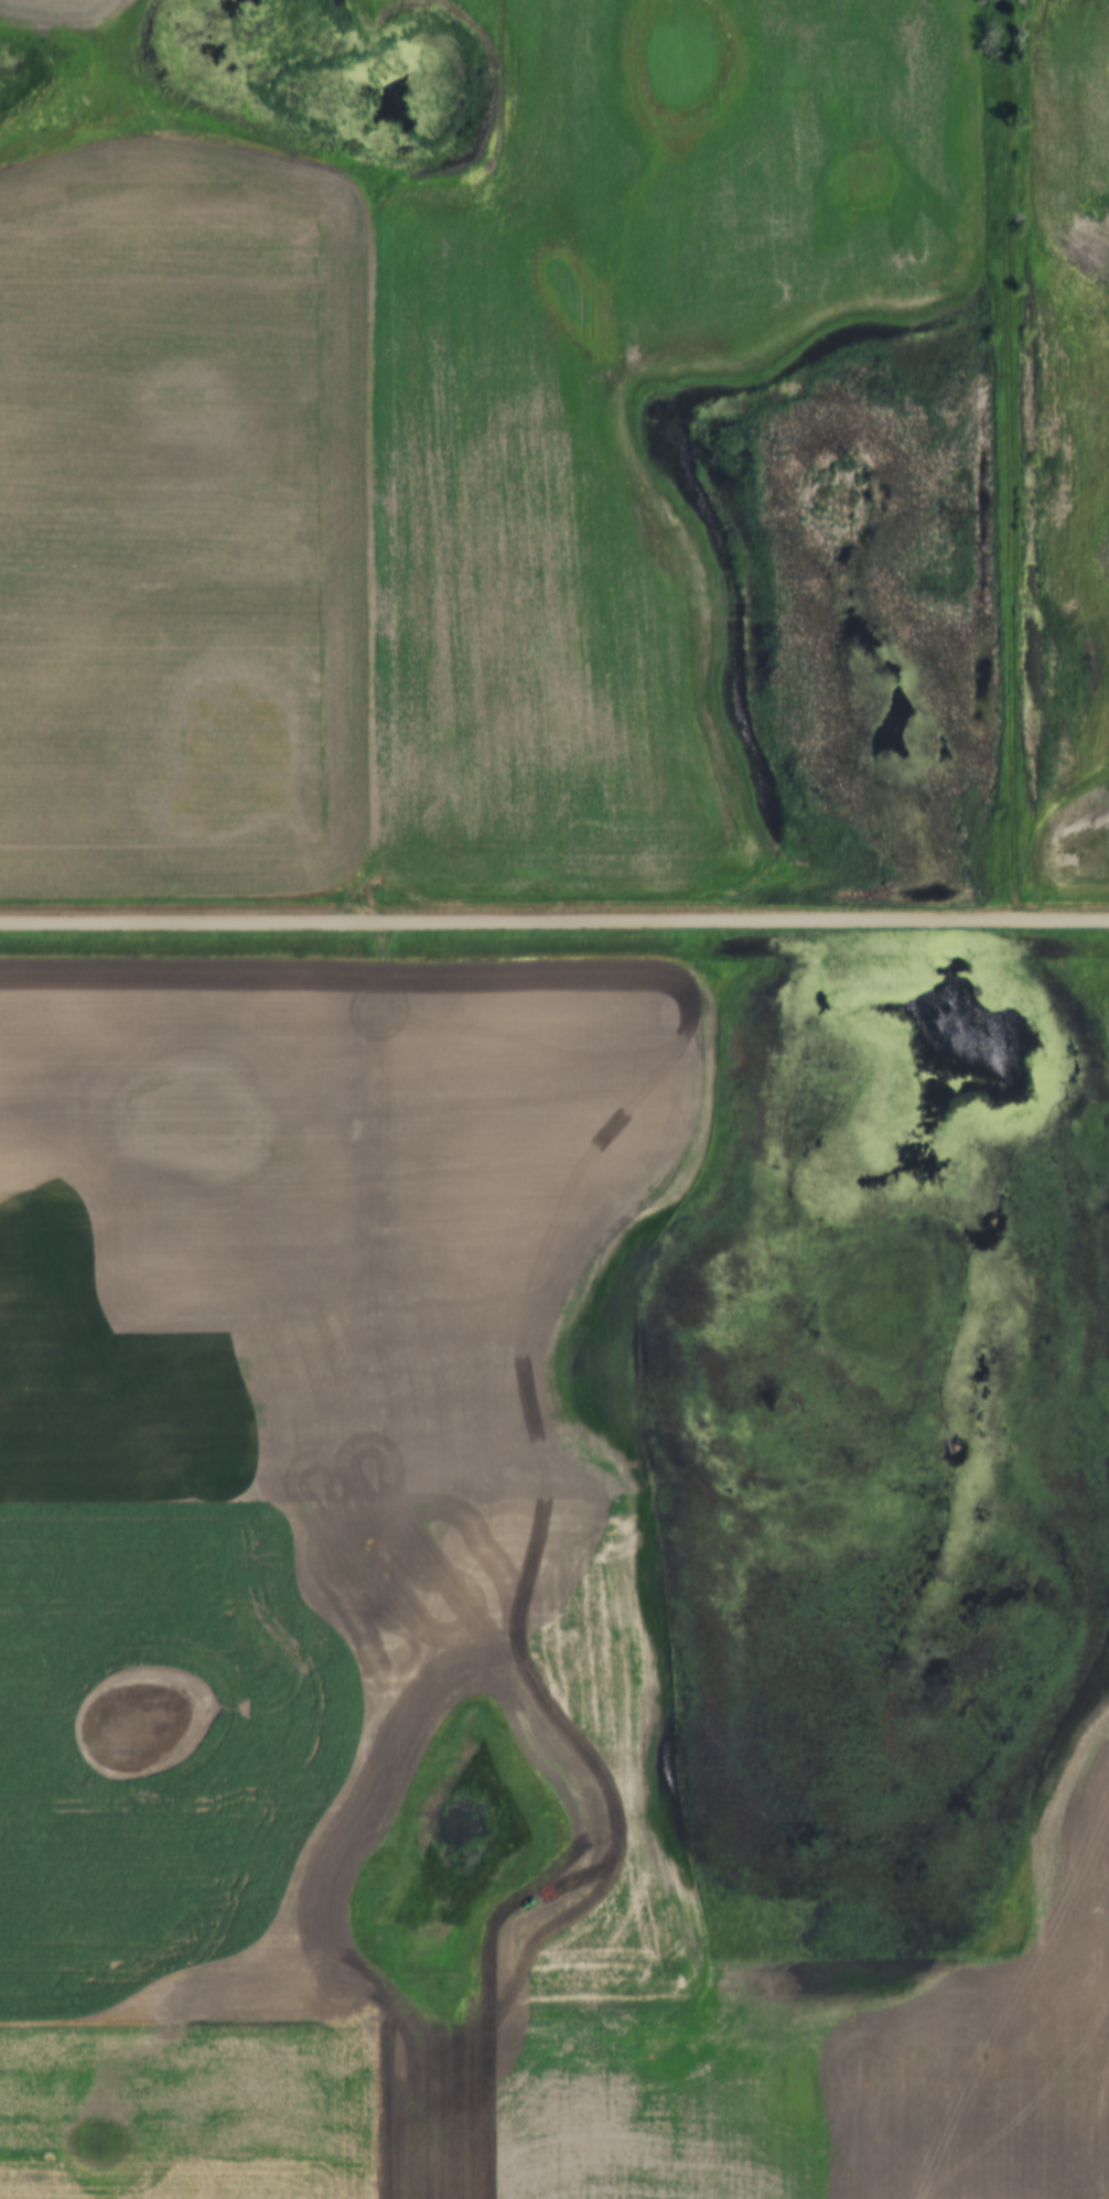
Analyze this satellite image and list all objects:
road: (1006, 459)
road: (554, 919)

